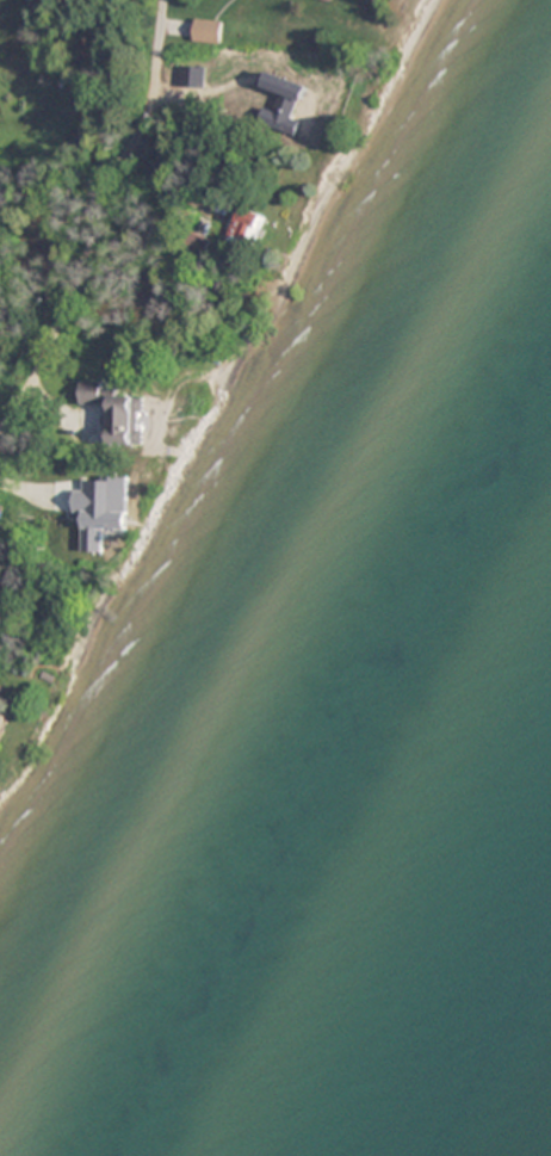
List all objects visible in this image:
building: (334, 1)
road: (103, 220)
building: (250, 230)
building: (117, 410)
building: (4, 719)

